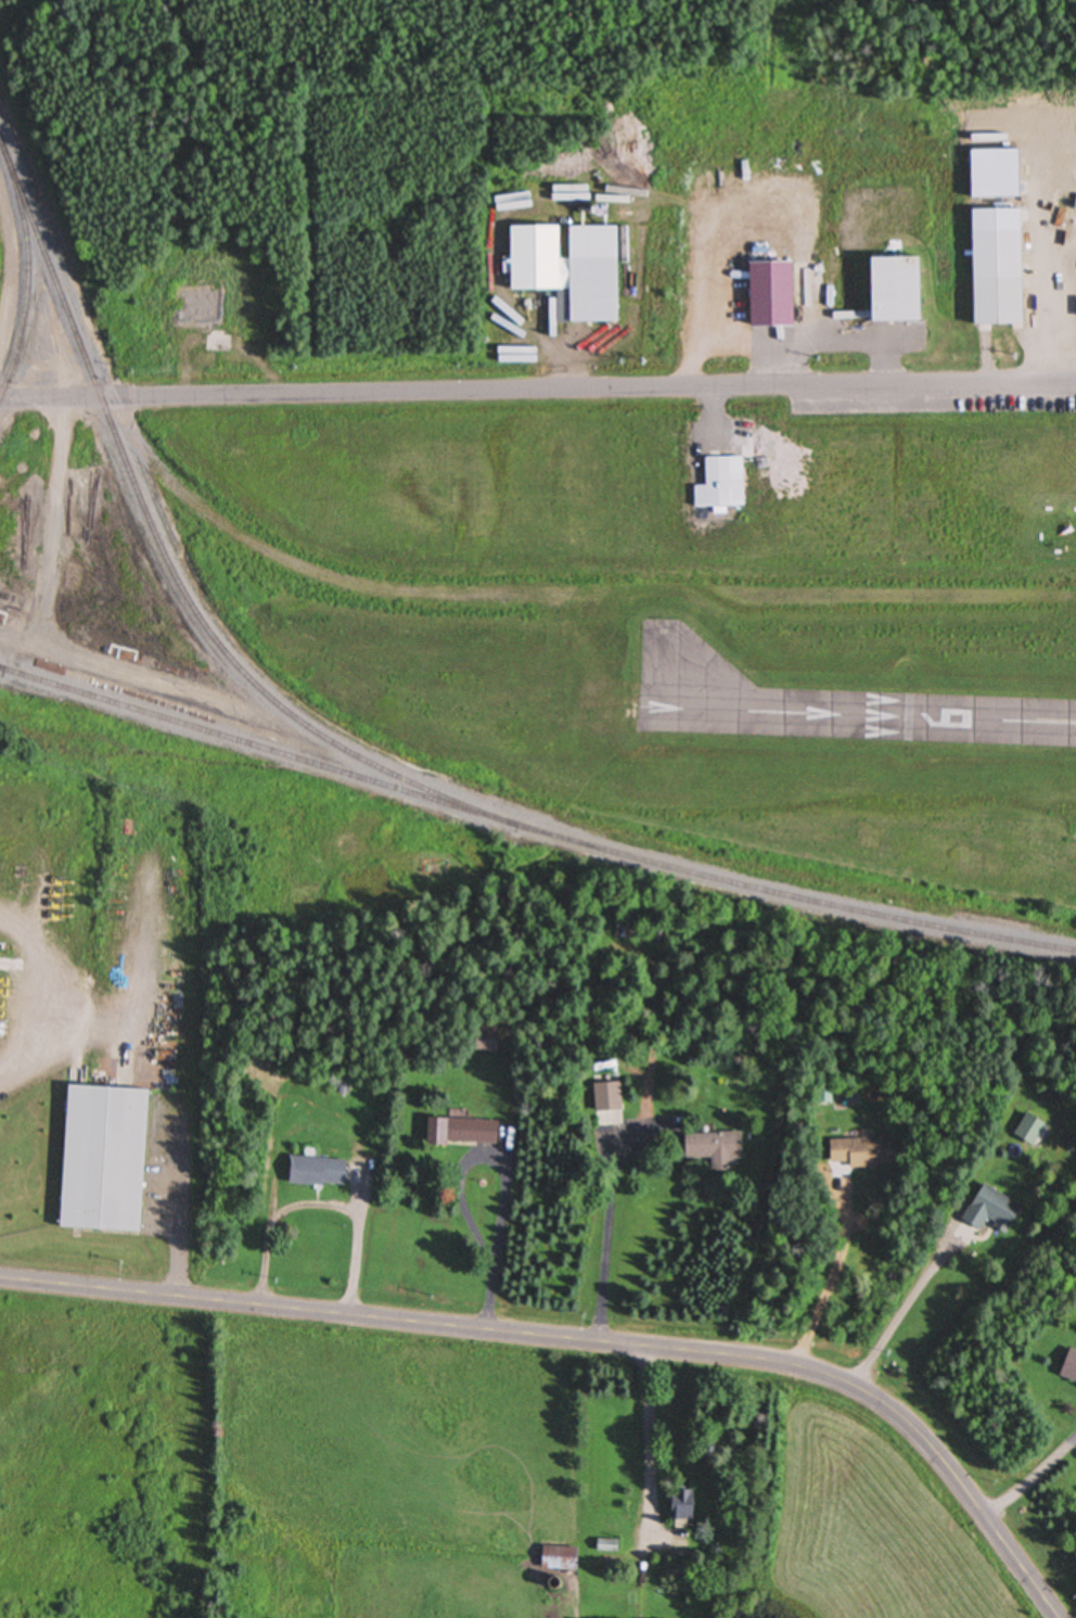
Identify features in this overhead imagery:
park: (804, 156)
building: (568, 270)
railway: (27, 272)
building: (992, 278)
railway: (54, 279)
building: (892, 291)
building: (767, 295)
road: (538, 392)
building: (719, 483)
airport: (665, 600)
railway: (2, 666)
railway: (253, 683)
airport runway: (867, 714)
railway: (257, 746)
park: (910, 851)
railway: (793, 896)
building: (487, 1037)
building: (344, 1087)
building: (607, 1100)
building: (1027, 1130)
building: (460, 1131)
building: (712, 1148)
building: (859, 1152)
building: (110, 1156)
building: (320, 1172)
building: (989, 1210)
road: (585, 1338)
building: (1067, 1369)
building: (679, 1505)
building: (605, 1546)
building: (559, 1558)
building: (555, 1607)

